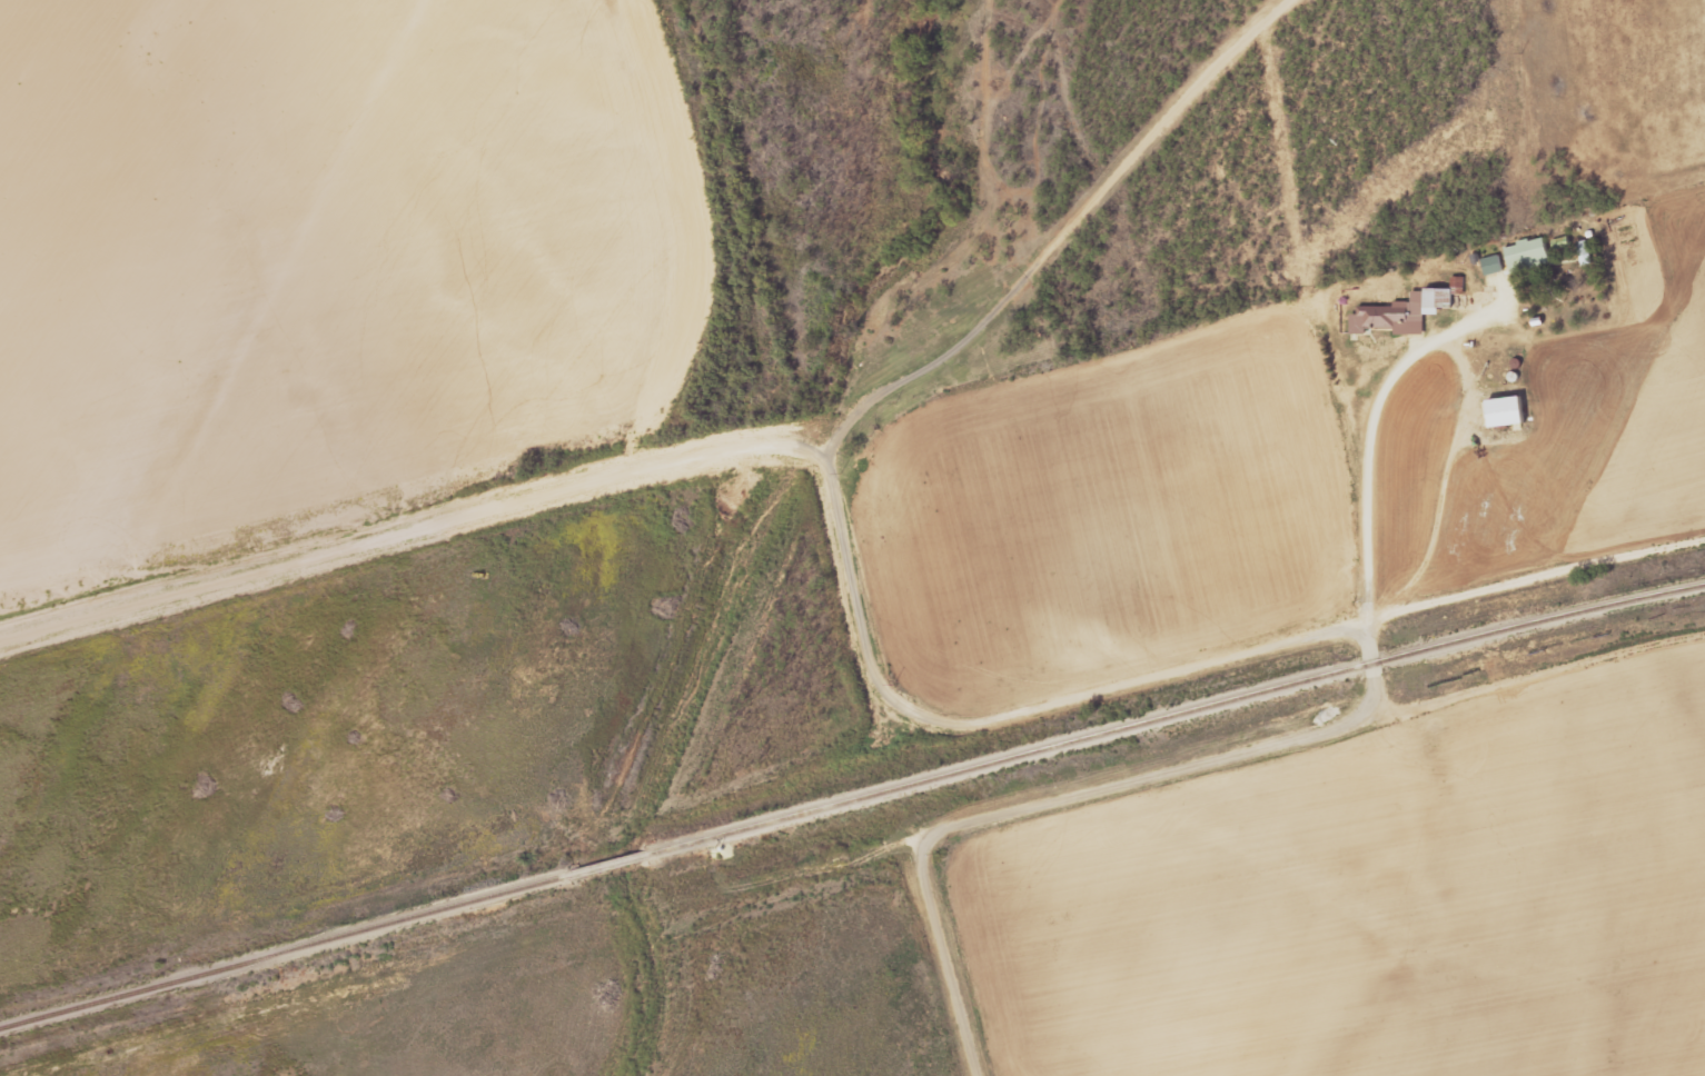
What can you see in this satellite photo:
road: (1061, 238)
building: (1528, 255)
building: (1493, 265)
road: (284, 309)
building: (1402, 313)
building: (1508, 411)
road: (790, 444)
road: (1369, 516)
road: (383, 545)
road: (1516, 676)
road: (1368, 684)
railway: (1180, 714)
road: (994, 720)
road: (1122, 785)
railway: (616, 863)
railway: (286, 950)
road: (948, 957)

